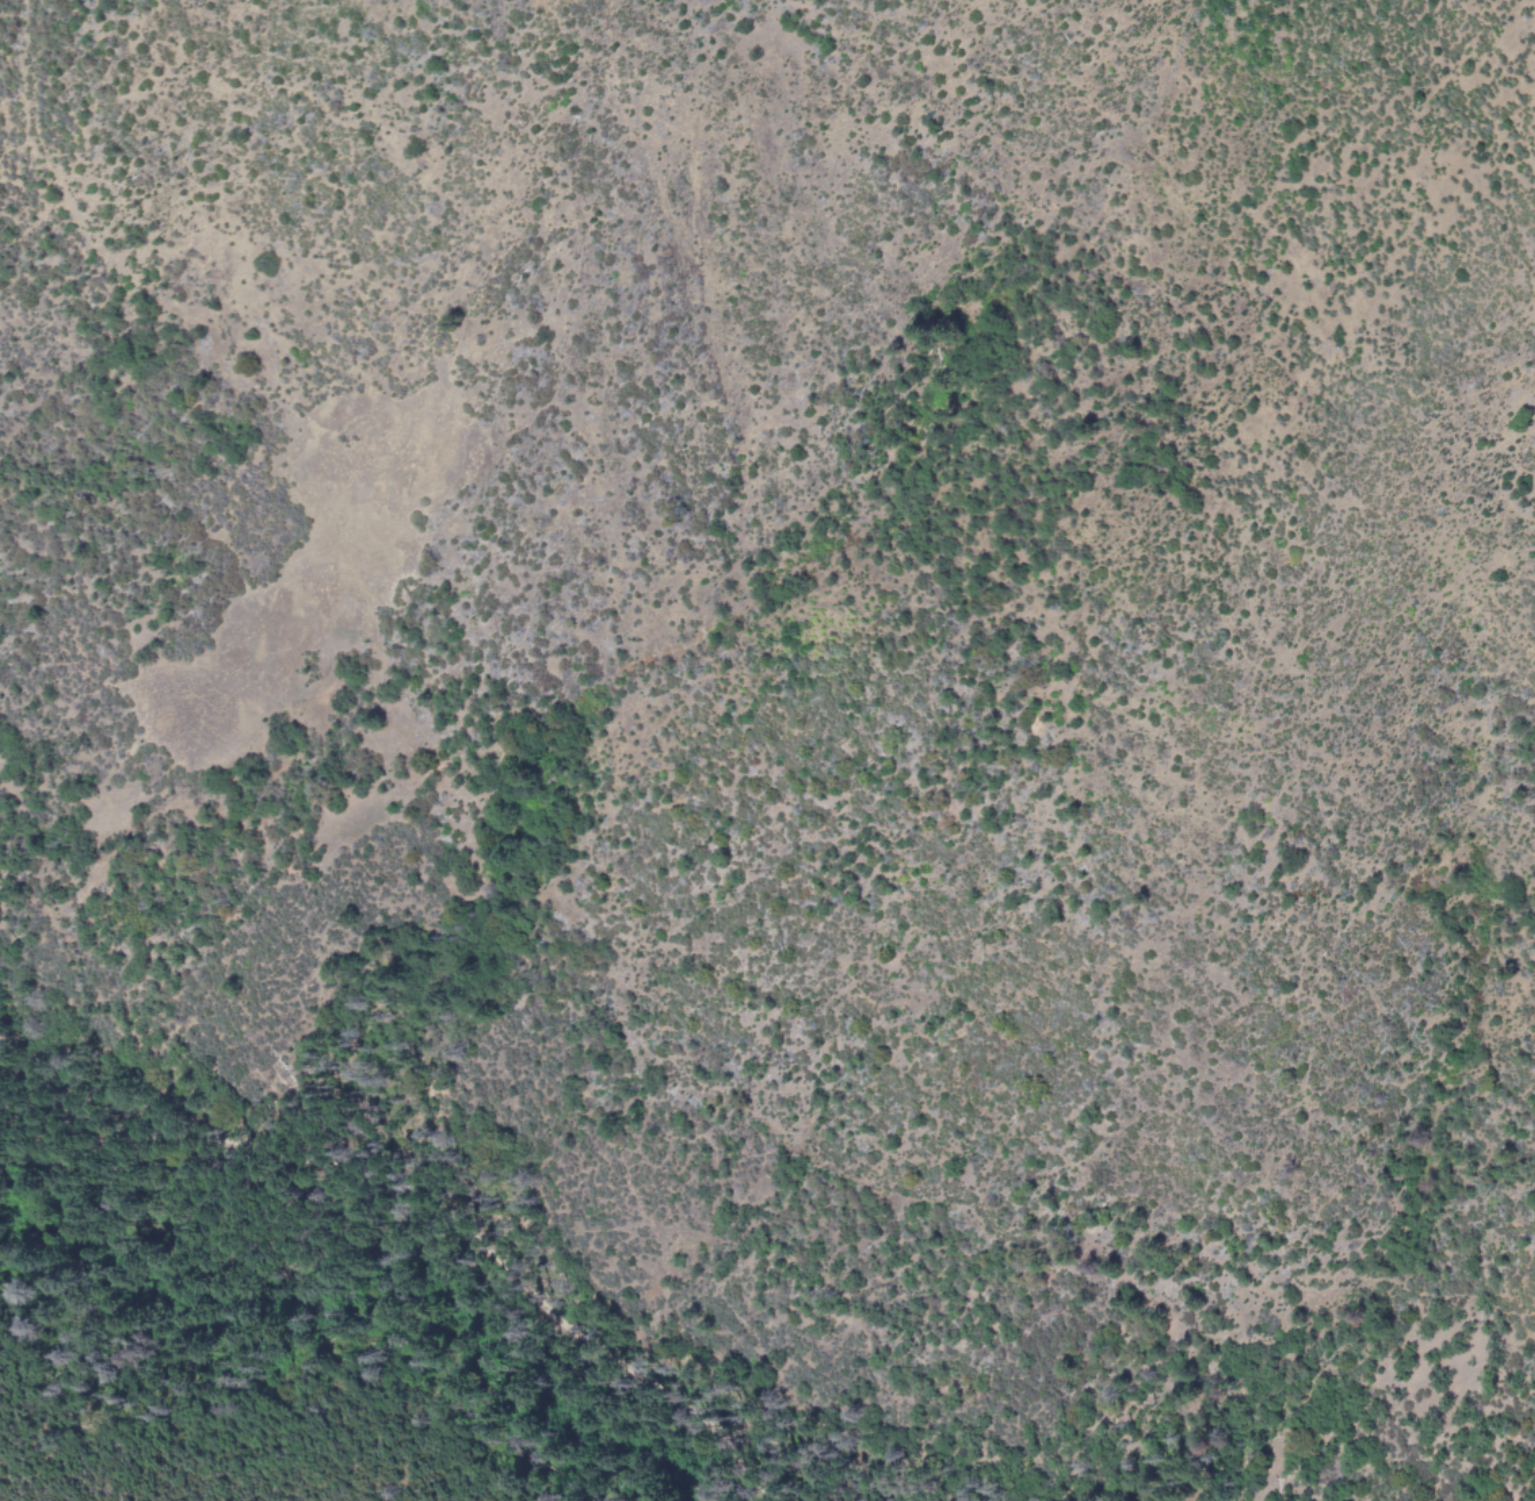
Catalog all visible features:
road: (405, 1209)
road: (743, 1351)

